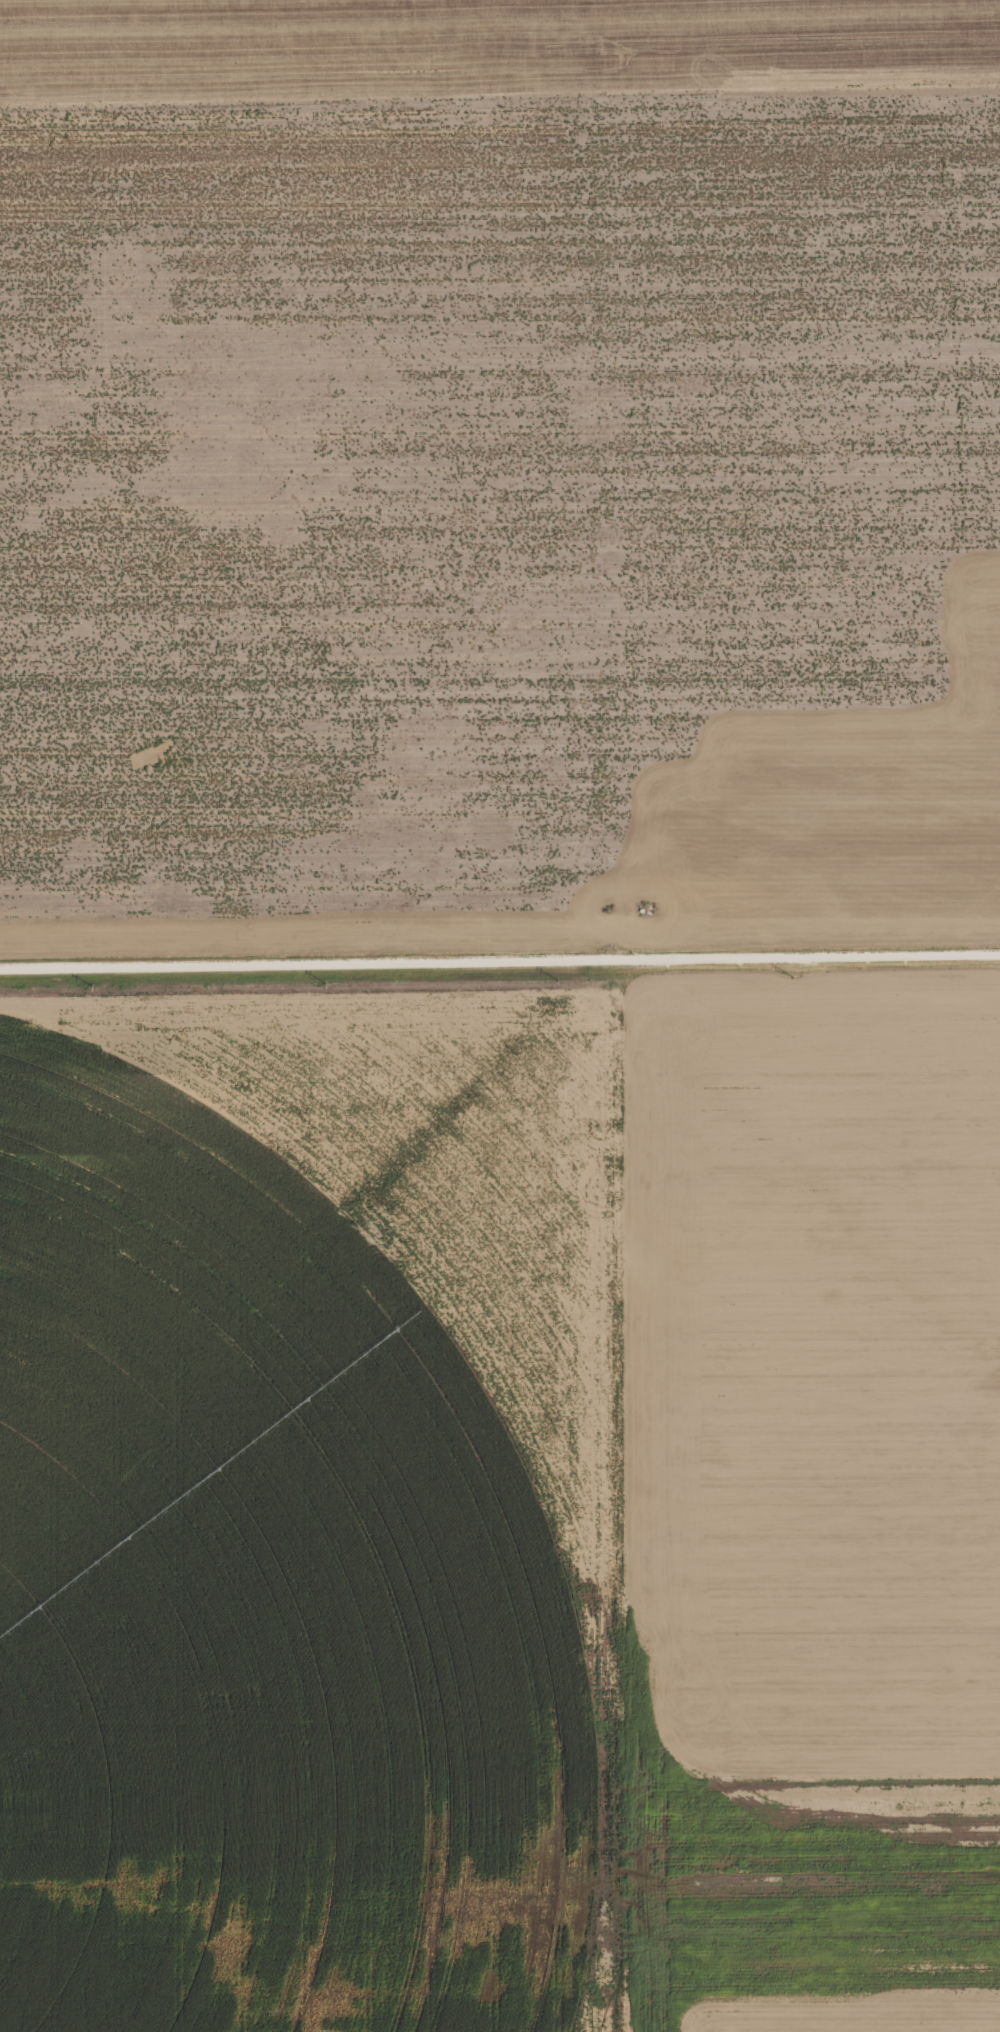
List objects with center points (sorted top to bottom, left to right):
road: (499, 958)
road: (606, 1494)

